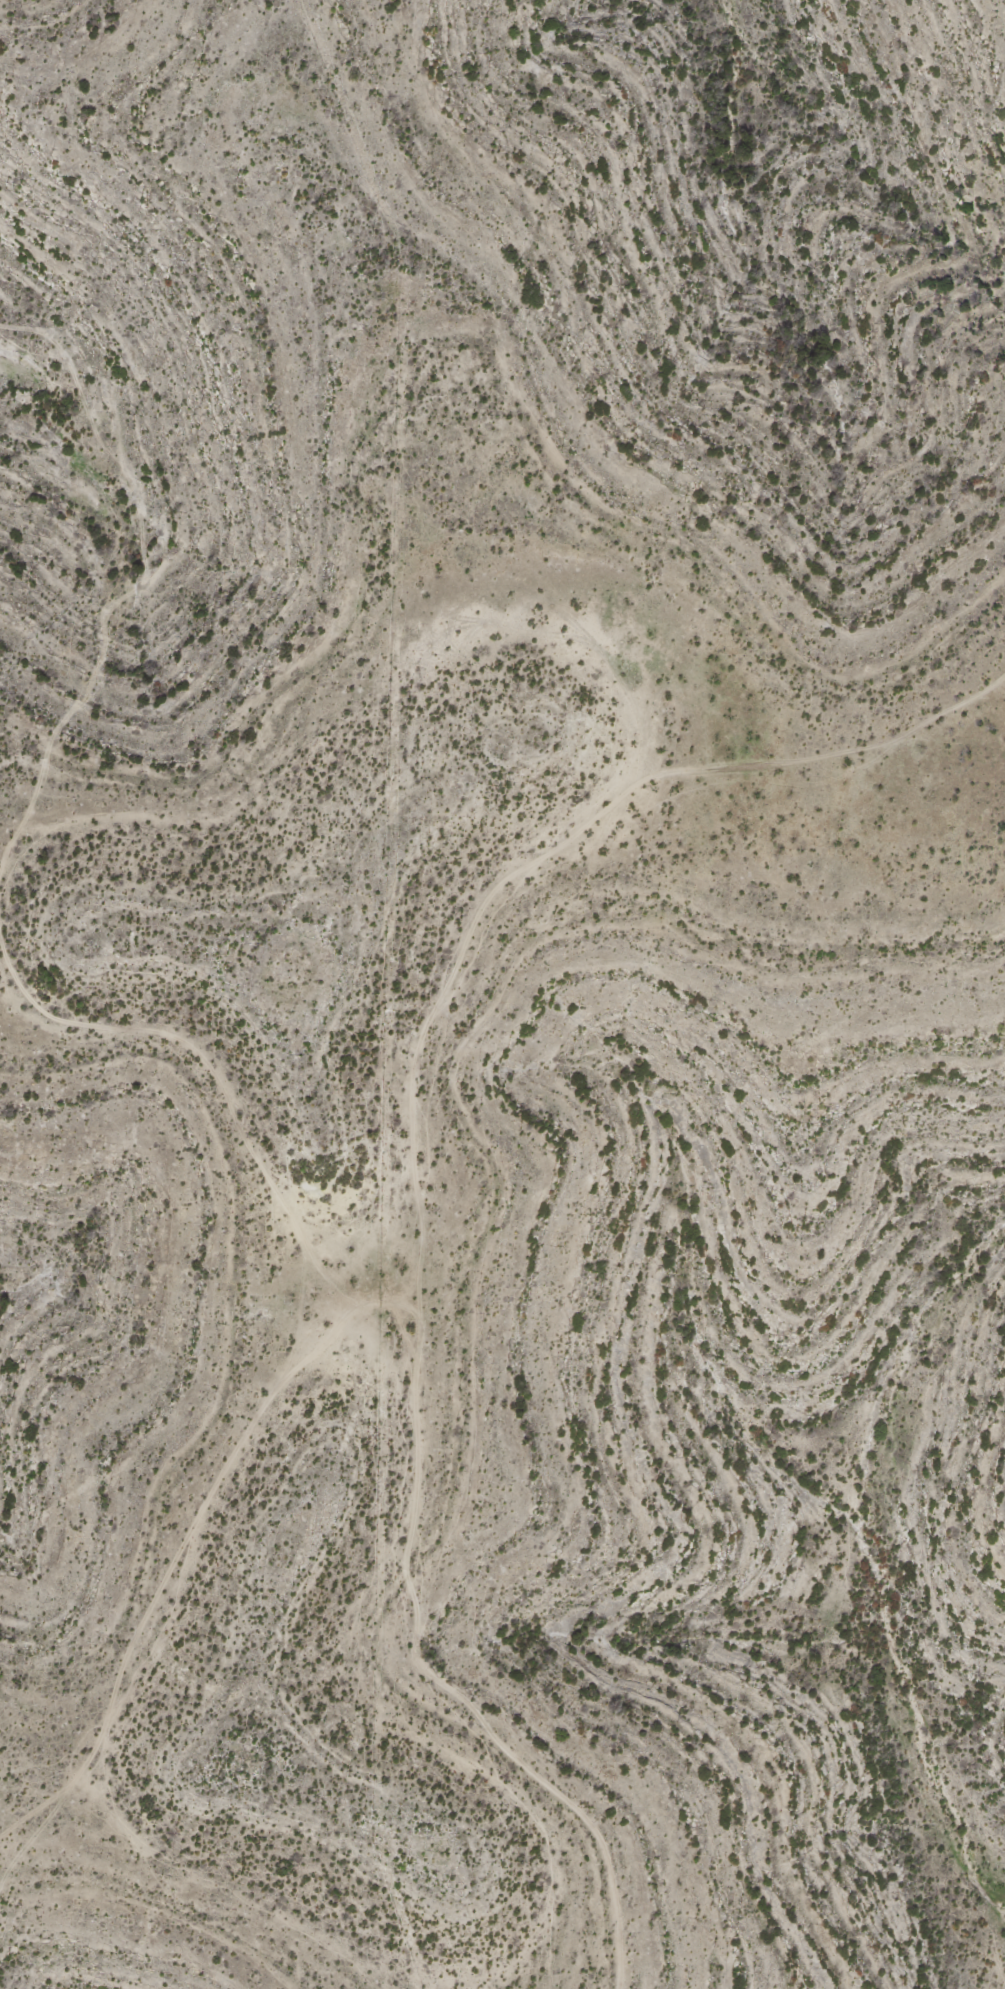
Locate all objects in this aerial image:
road: (163, 523)
road: (216, 1069)
road: (426, 1177)

